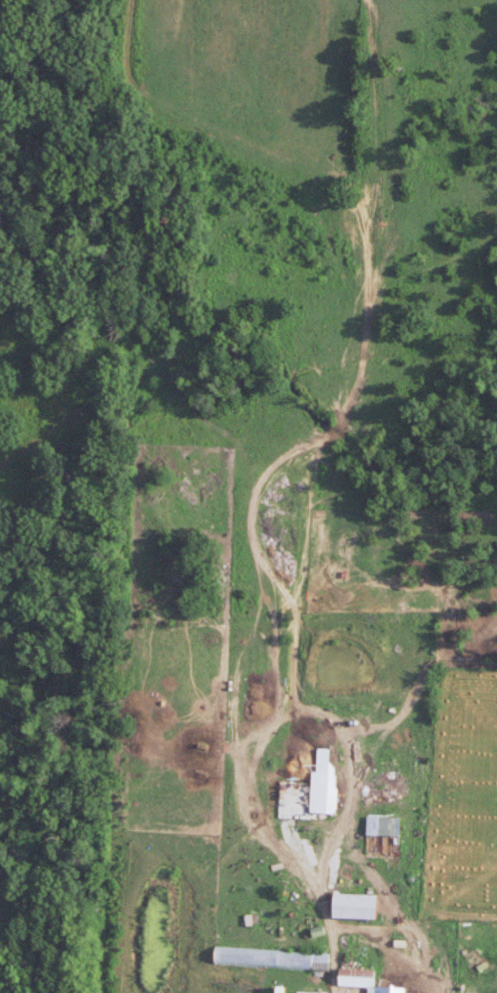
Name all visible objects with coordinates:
road: (213, 138)
road: (293, 494)
building: (319, 792)
building: (383, 826)
building: (355, 900)
building: (296, 960)
building: (361, 980)

